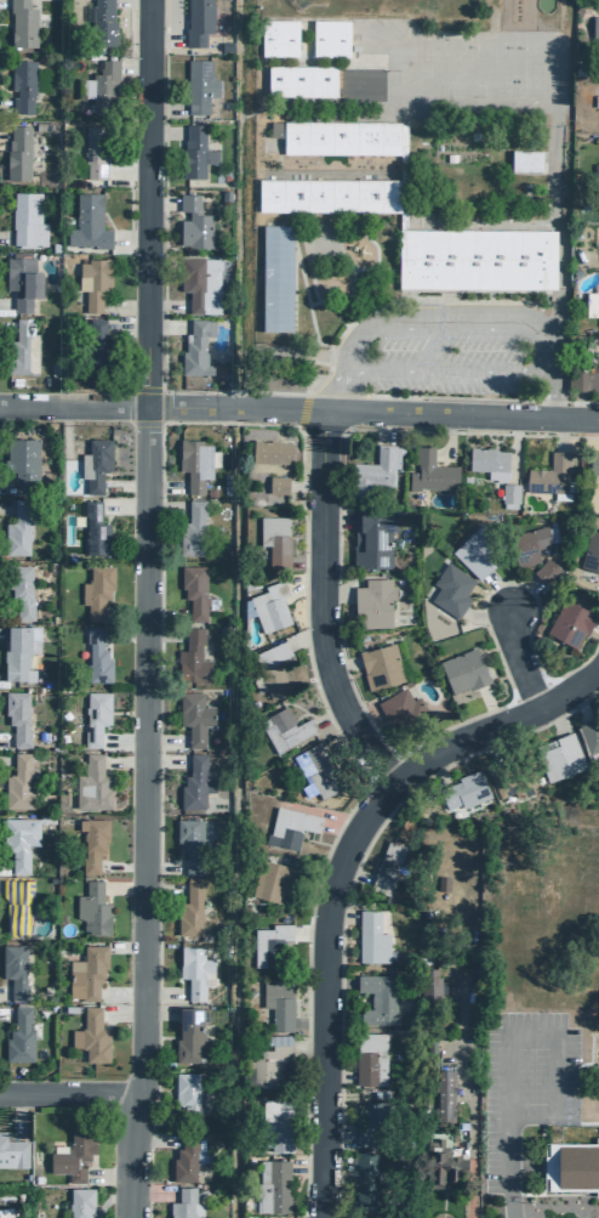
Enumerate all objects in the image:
road: (129, 0)
park: (331, 6)
building: (102, 21)
building: (25, 22)
building: (196, 22)
building: (594, 28)
building: (276, 38)
building: (329, 38)
road: (162, 40)
building: (224, 46)
park: (491, 47)
park: (540, 47)
road: (132, 69)
building: (321, 80)
park: (540, 81)
building: (22, 84)
building: (198, 85)
building: (101, 86)
road: (4, 104)
road: (162, 106)
road: (129, 126)
road: (162, 132)
road: (4, 134)
building: (340, 137)
road: (327, 151)
building: (93, 152)
building: (194, 152)
building: (17, 153)
building: (526, 163)
road: (125, 174)
building: (598, 185)
building: (223, 196)
building: (331, 196)
road: (159, 202)
road: (400, 208)
road: (333, 209)
building: (25, 220)
building: (87, 222)
building: (193, 222)
road: (558, 228)
road: (480, 233)
road: (5, 237)
road: (127, 238)
road: (366, 238)
building: (474, 259)
building: (275, 277)
building: (22, 281)
building: (92, 281)
building: (199, 282)
road: (301, 283)
road: (479, 284)
road: (292, 287)
road: (5, 305)
road: (164, 305)
road: (122, 307)
building: (598, 315)
road: (456, 316)
road: (6, 327)
road: (164, 327)
road: (124, 328)
road: (462, 328)
building: (93, 346)
building: (195, 346)
building: (22, 347)
parking lot: (456, 366)
road: (451, 374)
building: (586, 380)
road: (179, 391)
road: (332, 393)
road: (480, 398)
road: (577, 403)
road: (299, 407)
road: (299, 412)
road: (241, 424)
building: (269, 451)
building: (73, 453)
building: (486, 459)
building: (593, 461)
building: (95, 463)
building: (195, 463)
building: (24, 464)
building: (372, 471)
building: (429, 471)
building: (548, 475)
building: (275, 483)
road: (4, 485)
road: (122, 486)
road: (162, 486)
building: (209, 492)
building: (508, 492)
road: (121, 505)
road: (164, 505)
road: (5, 506)
building: (190, 528)
building: (16, 529)
building: (93, 529)
building: (370, 538)
building: (273, 539)
building: (525, 544)
building: (475, 549)
building: (591, 553)
building: (544, 571)
road: (302, 583)
building: (95, 589)
building: (193, 589)
building: (450, 589)
building: (21, 590)
building: (371, 602)
building: (269, 606)
road: (318, 606)
road: (141, 608)
road: (161, 613)
building: (567, 622)
street lamp: (484, 623)
road: (0, 630)
road: (161, 635)
road: (303, 639)
building: (18, 651)
building: (96, 655)
building: (190, 658)
road: (513, 658)
building: (380, 665)
building: (270, 668)
building: (462, 670)
road: (127, 675)
road: (354, 696)
road: (487, 706)
street lamp: (501, 706)
building: (400, 709)
building: (95, 716)
building: (193, 716)
building: (17, 718)
road: (495, 724)
building: (283, 729)
road: (337, 733)
building: (591, 737)
road: (4, 738)
road: (121, 741)
road: (161, 741)
road: (161, 759)
road: (5, 760)
building: (559, 760)
road: (122, 761)
building: (320, 769)
building: (514, 780)
building: (195, 782)
building: (18, 783)
building: (91, 786)
building: (463, 794)
building: (291, 826)
building: (17, 840)
building: (91, 843)
building: (188, 843)
road: (120, 866)
road: (161, 868)
building: (388, 868)
building: (273, 878)
road: (161, 885)
road: (348, 886)
road: (121, 888)
building: (17, 905)
building: (91, 908)
building: (189, 908)
street lamp: (309, 912)
road: (307, 931)
building: (370, 937)
building: (268, 944)
road: (122, 946)
building: (13, 969)
building: (194, 970)
building: (85, 971)
building: (428, 980)
road: (324, 992)
road: (2, 993)
road: (119, 993)
road: (161, 993)
building: (376, 998)
building: (275, 1003)
road: (158, 1012)
road: (5, 1014)
road: (120, 1014)
road: (557, 1021)
building: (187, 1035)
building: (18, 1036)
building: (90, 1036)
road: (308, 1043)
building: (369, 1058)
building: (267, 1064)
parking lot: (526, 1083)
road: (69, 1087)
building: (443, 1090)
building: (188, 1093)
road: (468, 1099)
road: (17, 1112)
building: (275, 1122)
building: (375, 1124)
road: (154, 1140)
building: (12, 1151)
building: (72, 1154)
building: (440, 1157)
building: (184, 1158)
building: (363, 1161)
road: (306, 1165)
building: (570, 1166)
road: (507, 1168)
road: (107, 1175)
building: (272, 1185)
road: (150, 1191)
road: (107, 1199)
building: (80, 1202)
building: (183, 1203)
road: (441, 1203)
building: (270, 1216)

